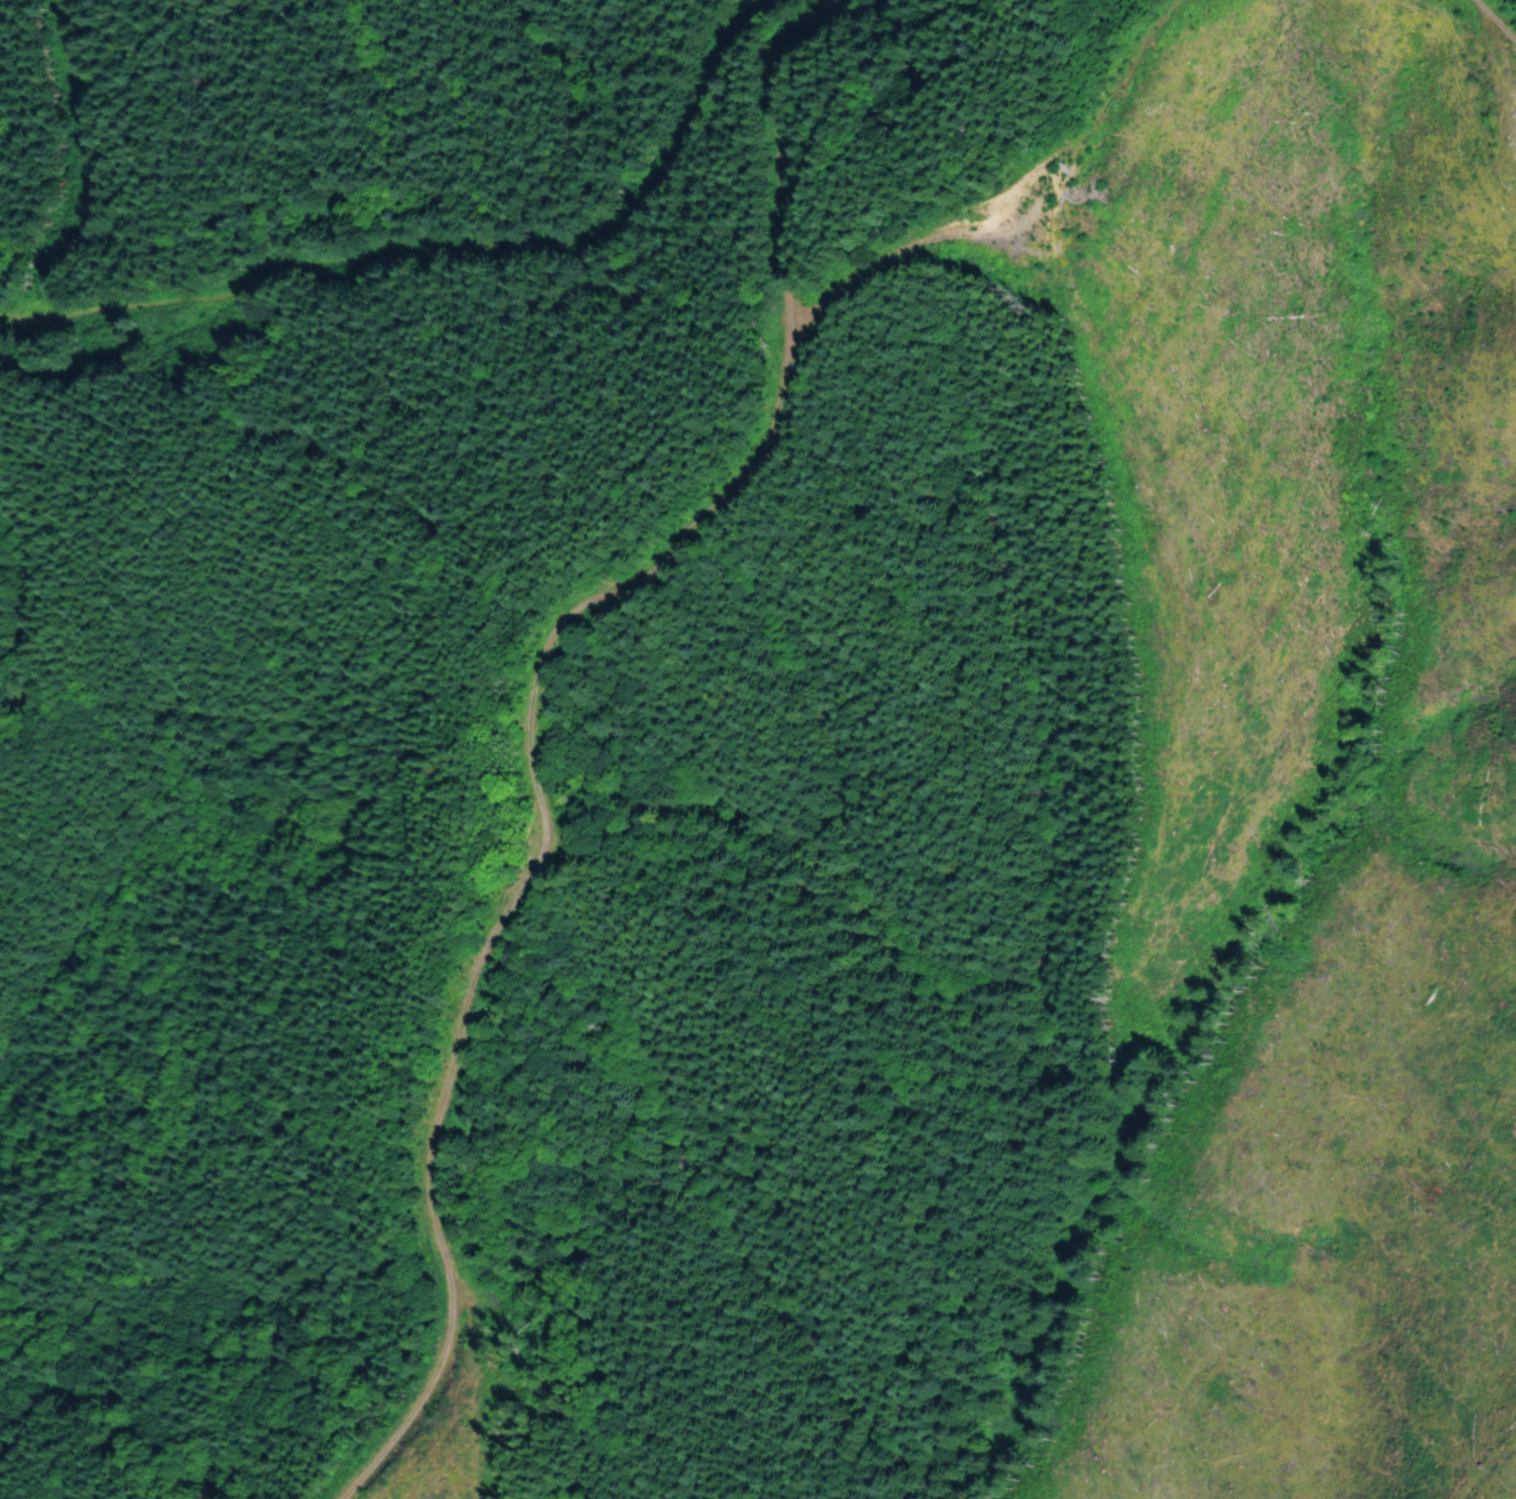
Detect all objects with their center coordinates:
road: (812, 150)
road: (88, 174)
road: (558, 631)

